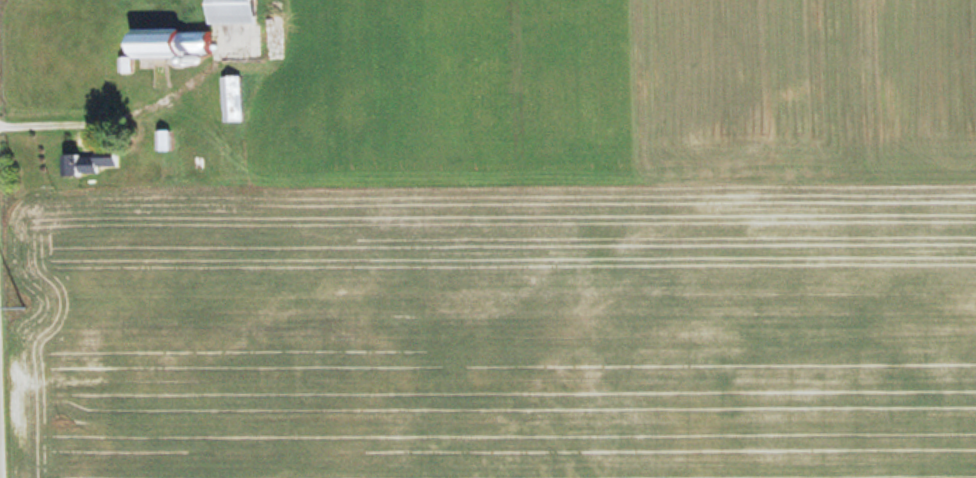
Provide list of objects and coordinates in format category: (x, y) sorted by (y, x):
building: (226, 11)
building: (160, 44)
building: (229, 98)
building: (160, 139)
building: (86, 162)

